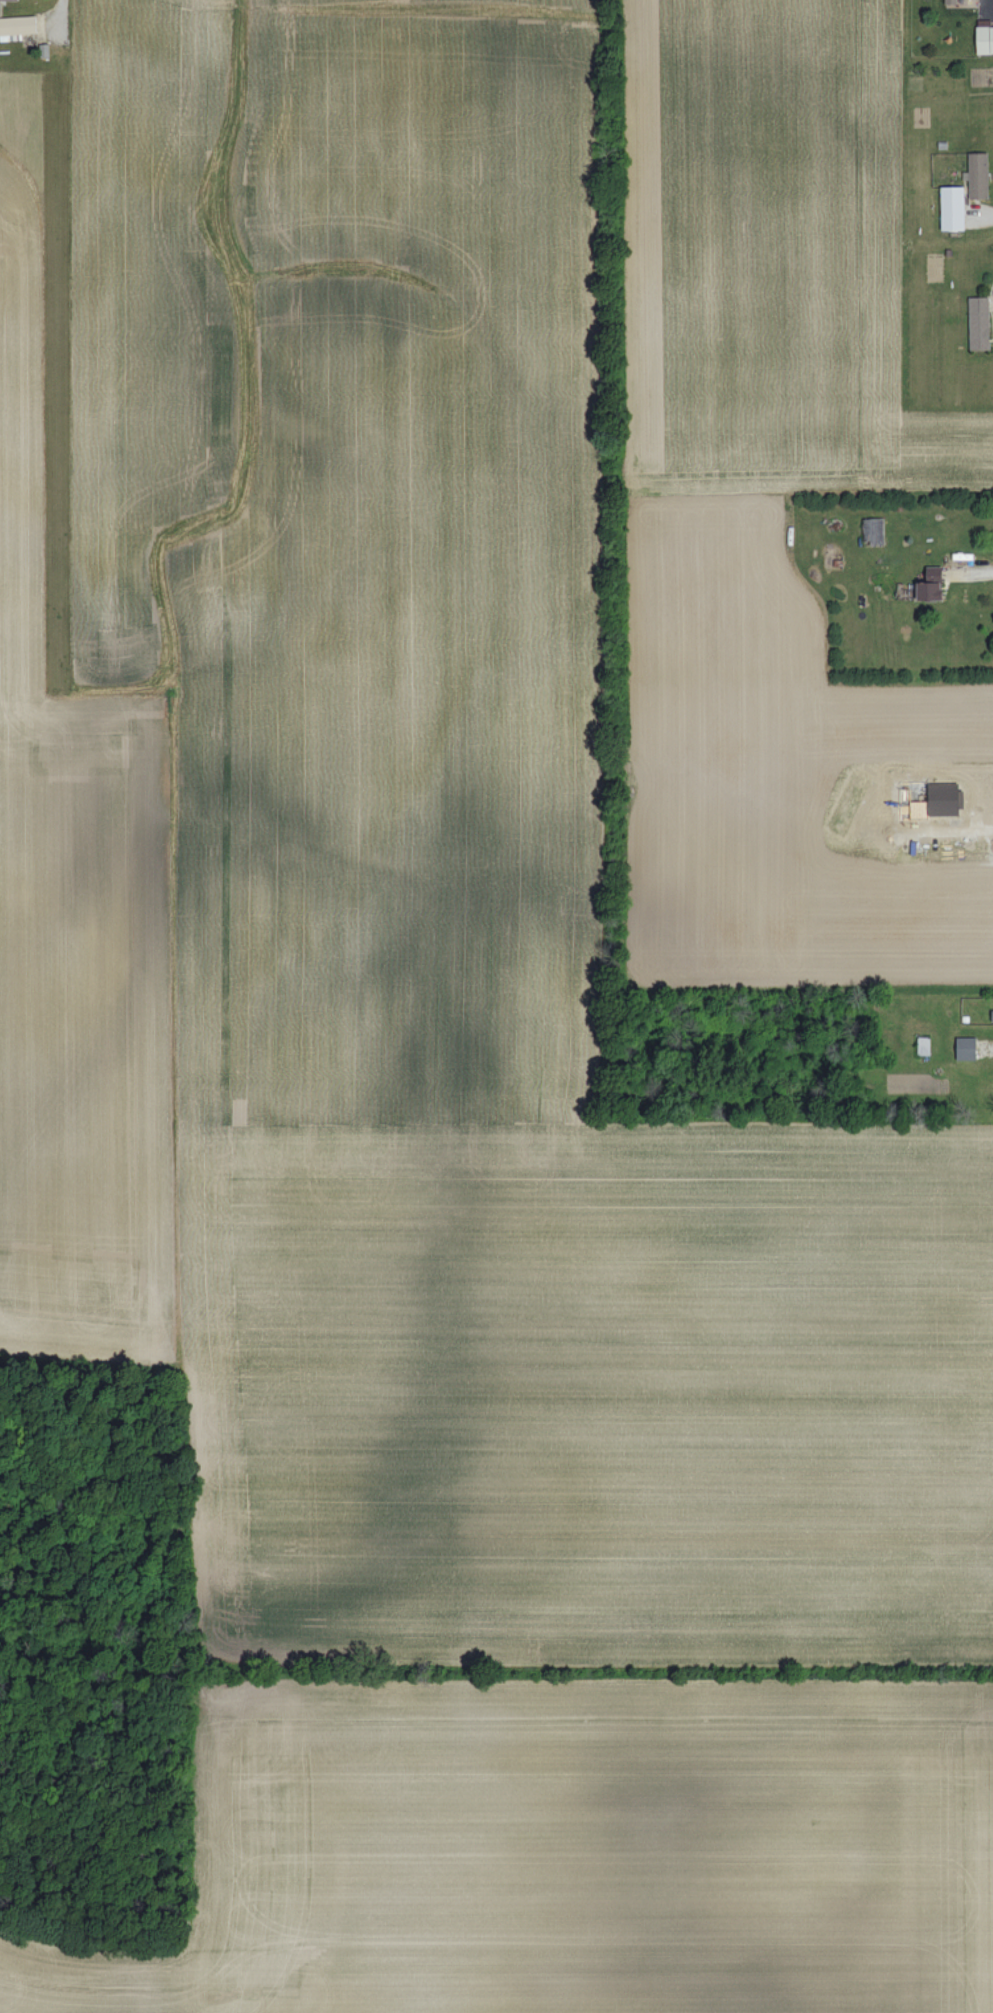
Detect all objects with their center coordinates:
building: (7, 0)
road: (992, 3)
building: (17, 25)
building: (984, 40)
building: (977, 175)
building: (952, 208)
building: (978, 323)
building: (872, 531)
road: (975, 575)
building: (930, 585)
building: (992, 1015)
building: (965, 1048)

